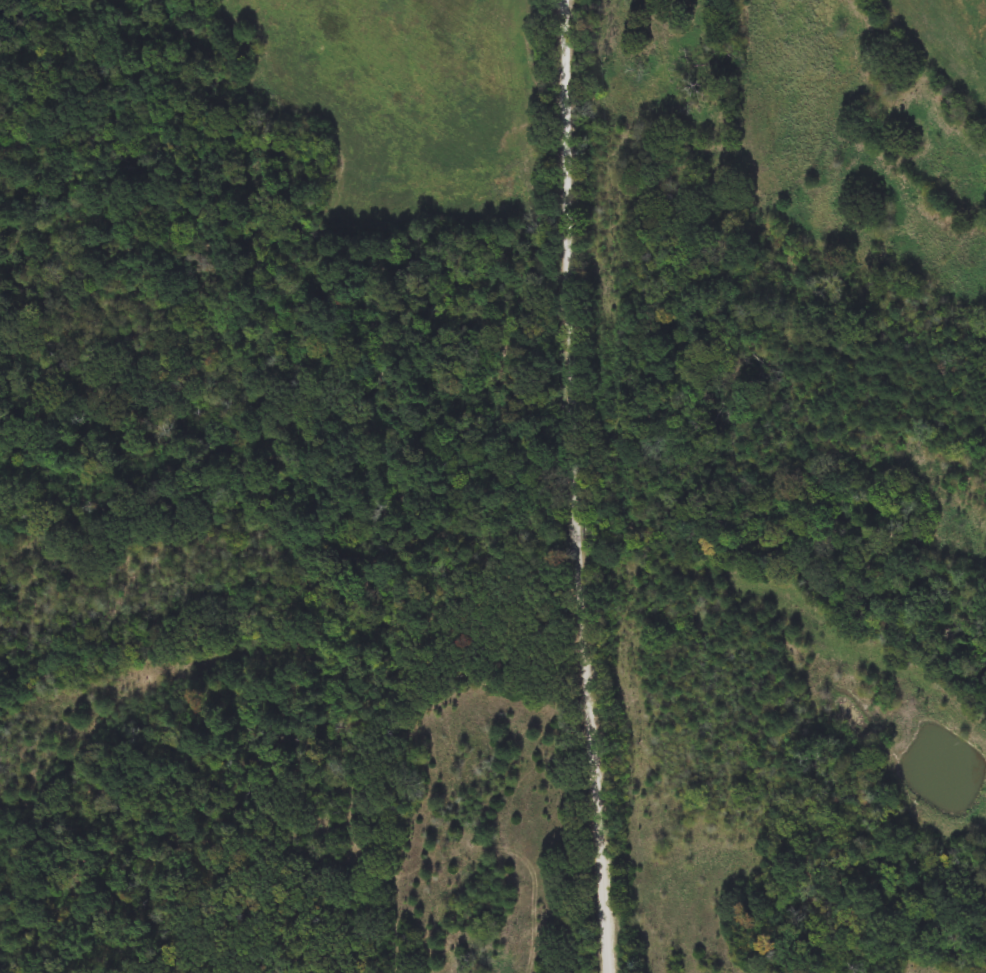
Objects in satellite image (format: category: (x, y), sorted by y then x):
road: (574, 487)

